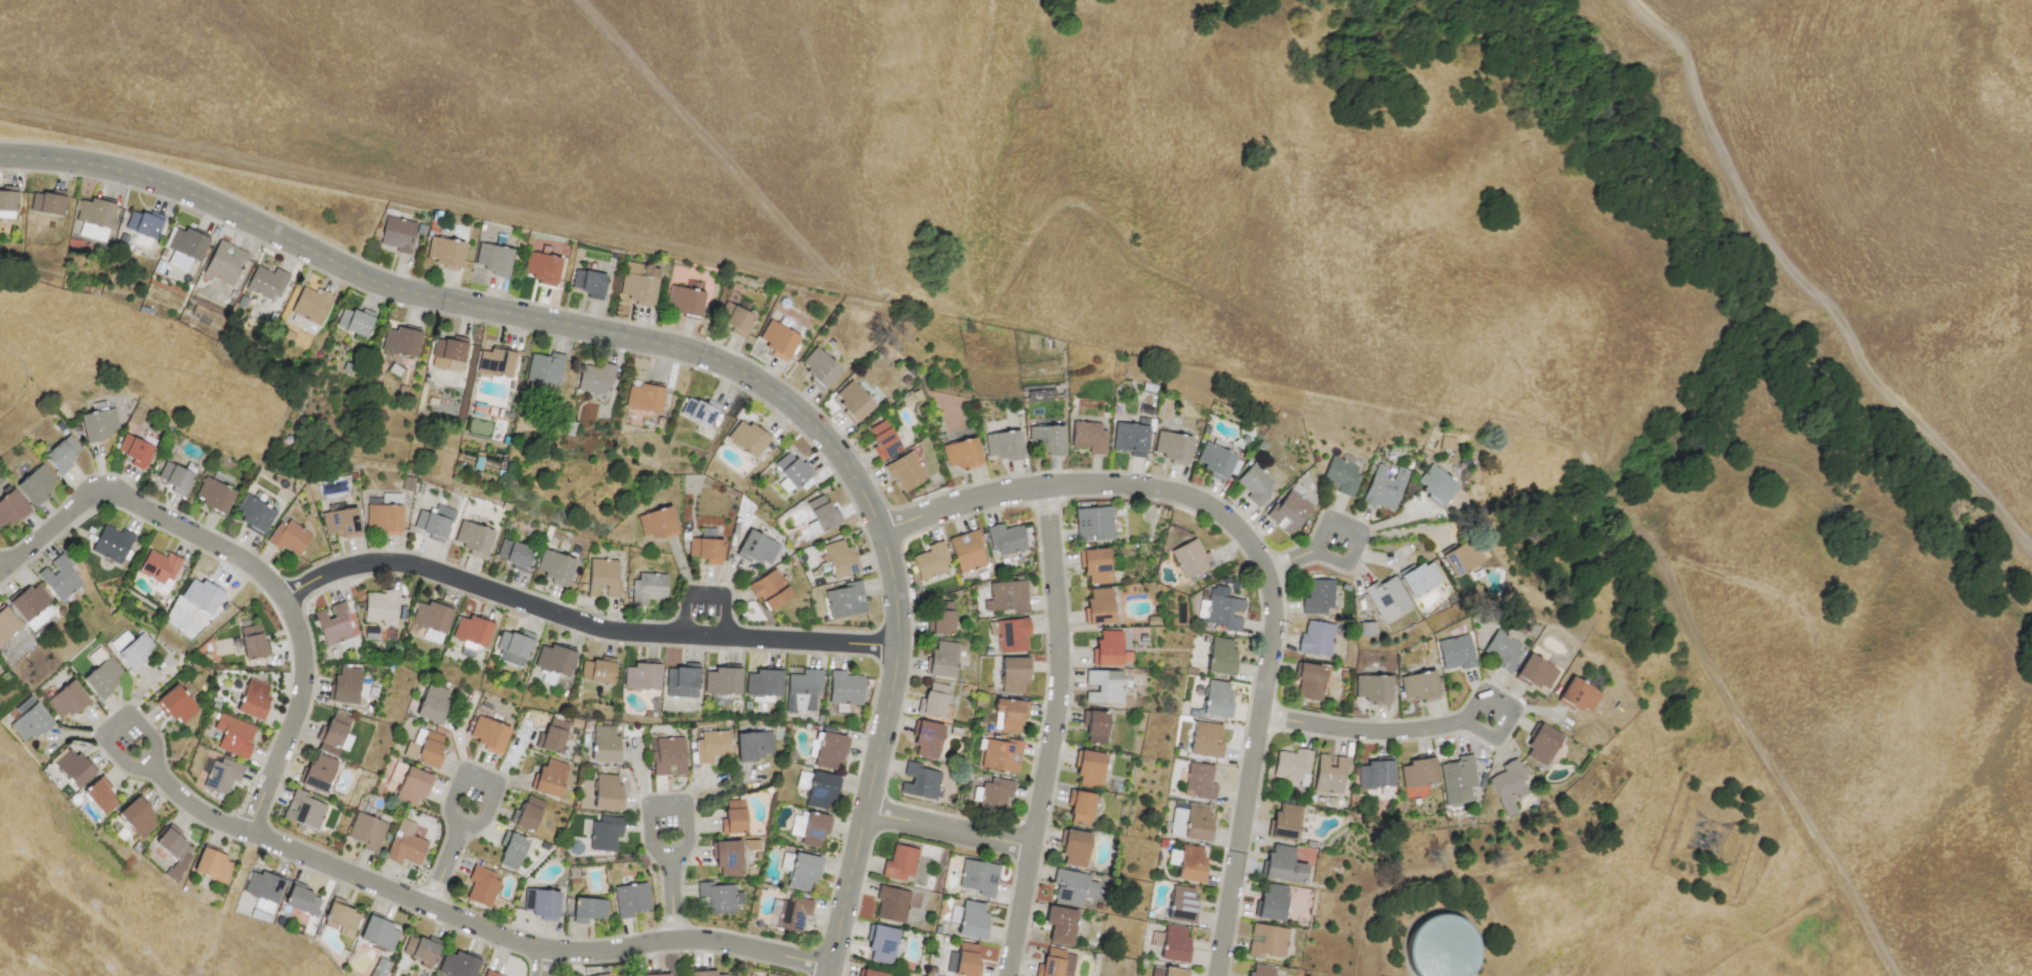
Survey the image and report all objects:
road: (707, 143)
building: (7, 201)
building: (48, 202)
road: (487, 211)
building: (94, 217)
building: (143, 223)
building: (397, 234)
building: (184, 246)
building: (444, 252)
building: (492, 259)
building: (224, 263)
building: (542, 267)
crop: (1337, 275)
building: (266, 282)
building: (588, 283)
building: (638, 283)
road: (1811, 284)
building: (684, 302)
building: (311, 305)
building: (735, 318)
building: (355, 321)
building: (778, 340)
building: (401, 341)
road: (691, 352)
building: (448, 353)
building: (545, 368)
building: (819, 368)
building: (595, 378)
road: (1382, 392)
building: (644, 398)
building: (909, 399)
building: (852, 401)
building: (698, 411)
building: (98, 424)
building: (500, 431)
building: (1087, 436)
building: (1129, 437)
building: (747, 438)
building: (882, 439)
building: (1046, 439)
building: (1002, 445)
building: (1172, 447)
building: (134, 450)
building: (61, 453)
building: (960, 454)
building: (1215, 459)
building: (791, 469)
building: (904, 471)
building: (177, 476)
building: (1341, 476)
building: (35, 484)
road: (1084, 484)
building: (1254, 484)
building: (1435, 484)
building: (1383, 488)
building: (213, 495)
road: (141, 505)
building: (10, 508)
building: (1288, 511)
building: (253, 513)
building: (384, 513)
building: (822, 513)
building: (339, 522)
building: (434, 522)
building: (657, 523)
building: (1093, 523)
building: (288, 537)
building: (473, 538)
building: (1005, 539)
building: (111, 544)
building: (705, 547)
building: (757, 548)
building: (967, 551)
building: (514, 554)
road: (1354, 555)
building: (838, 558)
building: (1190, 558)
building: (1461, 558)
building: (931, 561)
building: (1095, 565)
building: (555, 567)
building: (159, 568)
road: (4, 569)
building: (59, 578)
building: (602, 578)
building: (1419, 578)
building: (648, 588)
building: (769, 589)
road: (704, 594)
building: (202, 595)
building: (1318, 596)
building: (1006, 597)
building: (1386, 598)
building: (844, 600)
building: (29, 602)
building: (1099, 605)
building: (380, 606)
building: (1200, 608)
building: (1222, 608)
building: (431, 616)
building: (941, 617)
road: (581, 623)
building: (7, 624)
building: (333, 624)
building: (472, 630)
building: (1011, 634)
building: (1316, 638)
building: (252, 642)
building: (513, 647)
building: (1110, 649)
building: (134, 651)
building: (1502, 651)
building: (1455, 652)
building: (1220, 656)
building: (553, 659)
building: (942, 659)
building: (596, 670)
building: (1535, 673)
building: (641, 675)
building: (1014, 675)
building: (102, 677)
building: (722, 679)
building: (682, 680)
building: (1310, 681)
building: (763, 682)
building: (345, 686)
building: (1103, 686)
building: (1419, 687)
building: (845, 688)
building: (1372, 688)
building: (803, 690)
building: (1579, 695)
building: (934, 699)
building: (1217, 699)
building: (65, 700)
building: (253, 700)
building: (431, 703)
building: (177, 704)
building: (1010, 714)
road: (294, 716)
building: (27, 719)
road: (1436, 726)
building: (1095, 727)
road: (1051, 732)
building: (487, 733)
building: (335, 734)
building: (233, 735)
building: (553, 735)
building: (927, 738)
building: (1205, 740)
building: (603, 743)
building: (752, 744)
building: (1541, 745)
building: (711, 746)
building: (423, 747)
building: (829, 751)
building: (1001, 754)
building: (667, 756)
building: (1292, 765)
building: (73, 767)
building: (1089, 768)
road: (1249, 771)
building: (1418, 771)
building: (318, 772)
building: (1330, 773)
building: (1375, 774)
building: (222, 775)
building: (550, 777)
building: (1457, 779)
building: (920, 781)
building: (1199, 781)
building: (1507, 785)
building: (412, 786)
building: (821, 791)
building: (607, 792)
building: (992, 794)
building: (99, 795)
road: (488, 804)
building: (1080, 808)
building: (303, 810)
building: (528, 813)
building: (734, 815)
building: (137, 816)
building: (1176, 821)
building: (1197, 822)
building: (1283, 822)
building: (808, 828)
road: (691, 829)
road: (949, 829)
building: (366, 831)
building: (604, 833)
building: (405, 844)
building: (1074, 848)
building: (174, 850)
building: (511, 850)
building: (727, 857)
building: (1187, 862)
building: (900, 863)
building: (213, 864)
building: (1283, 865)
building: (799, 870)
building: (977, 876)
building: (481, 885)
building: (263, 886)
building: (1069, 888)
road: (399, 893)
building: (301, 898)
building: (715, 898)
building: (630, 899)
building: (541, 903)
building: (1271, 903)
building: (892, 904)
building: (1181, 904)
building: (588, 909)
building: (788, 913)
building: (340, 916)
building: (971, 920)
building: (1060, 925)
building: (379, 933)
building: (1267, 941)
building: (881, 943)
building: (1171, 943)
building: (1441, 946)
storage tank: (1441, 946)
building: (424, 949)
building: (966, 960)
road: (537, 963)
building: (1057, 963)
building: (458, 964)
building: (379, 967)
building: (1167, 971)
building: (1261, 971)
building: (491, 973)
building: (704, 973)
building: (872, 973)
building: (602, 974)
building: (767, 974)
building: (657, 975)

